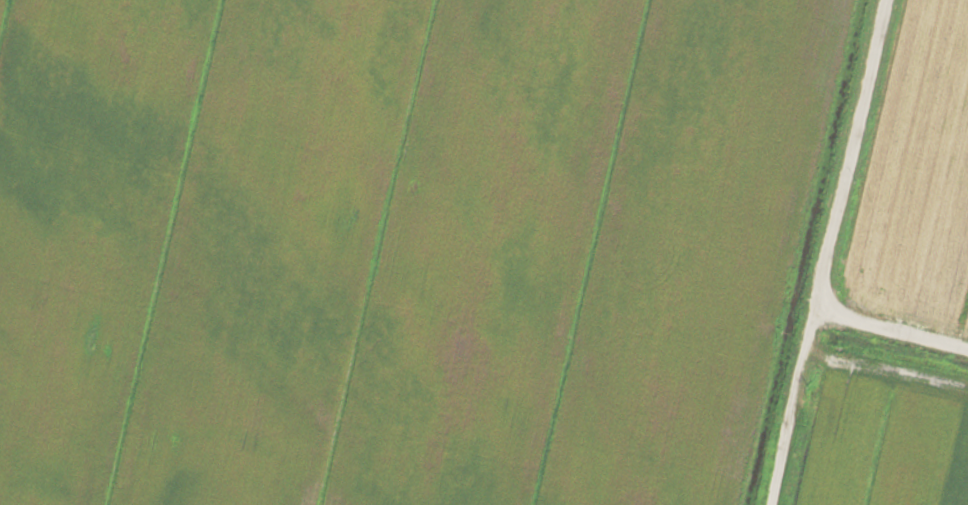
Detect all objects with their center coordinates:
road: (828, 252)
road: (892, 327)

